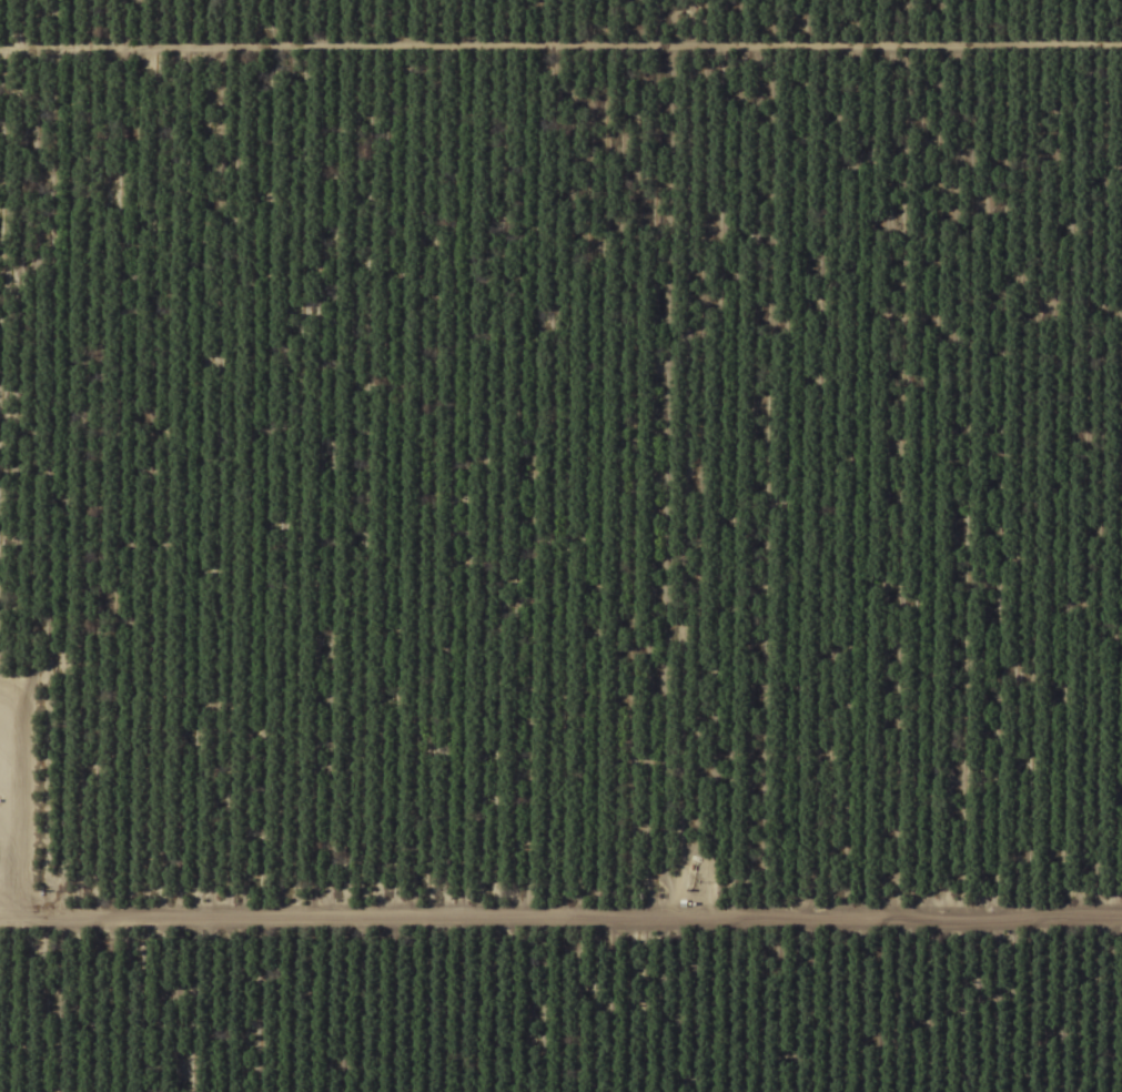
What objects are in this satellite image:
crop: (560, 546)
road: (438, 695)
road: (559, 867)

